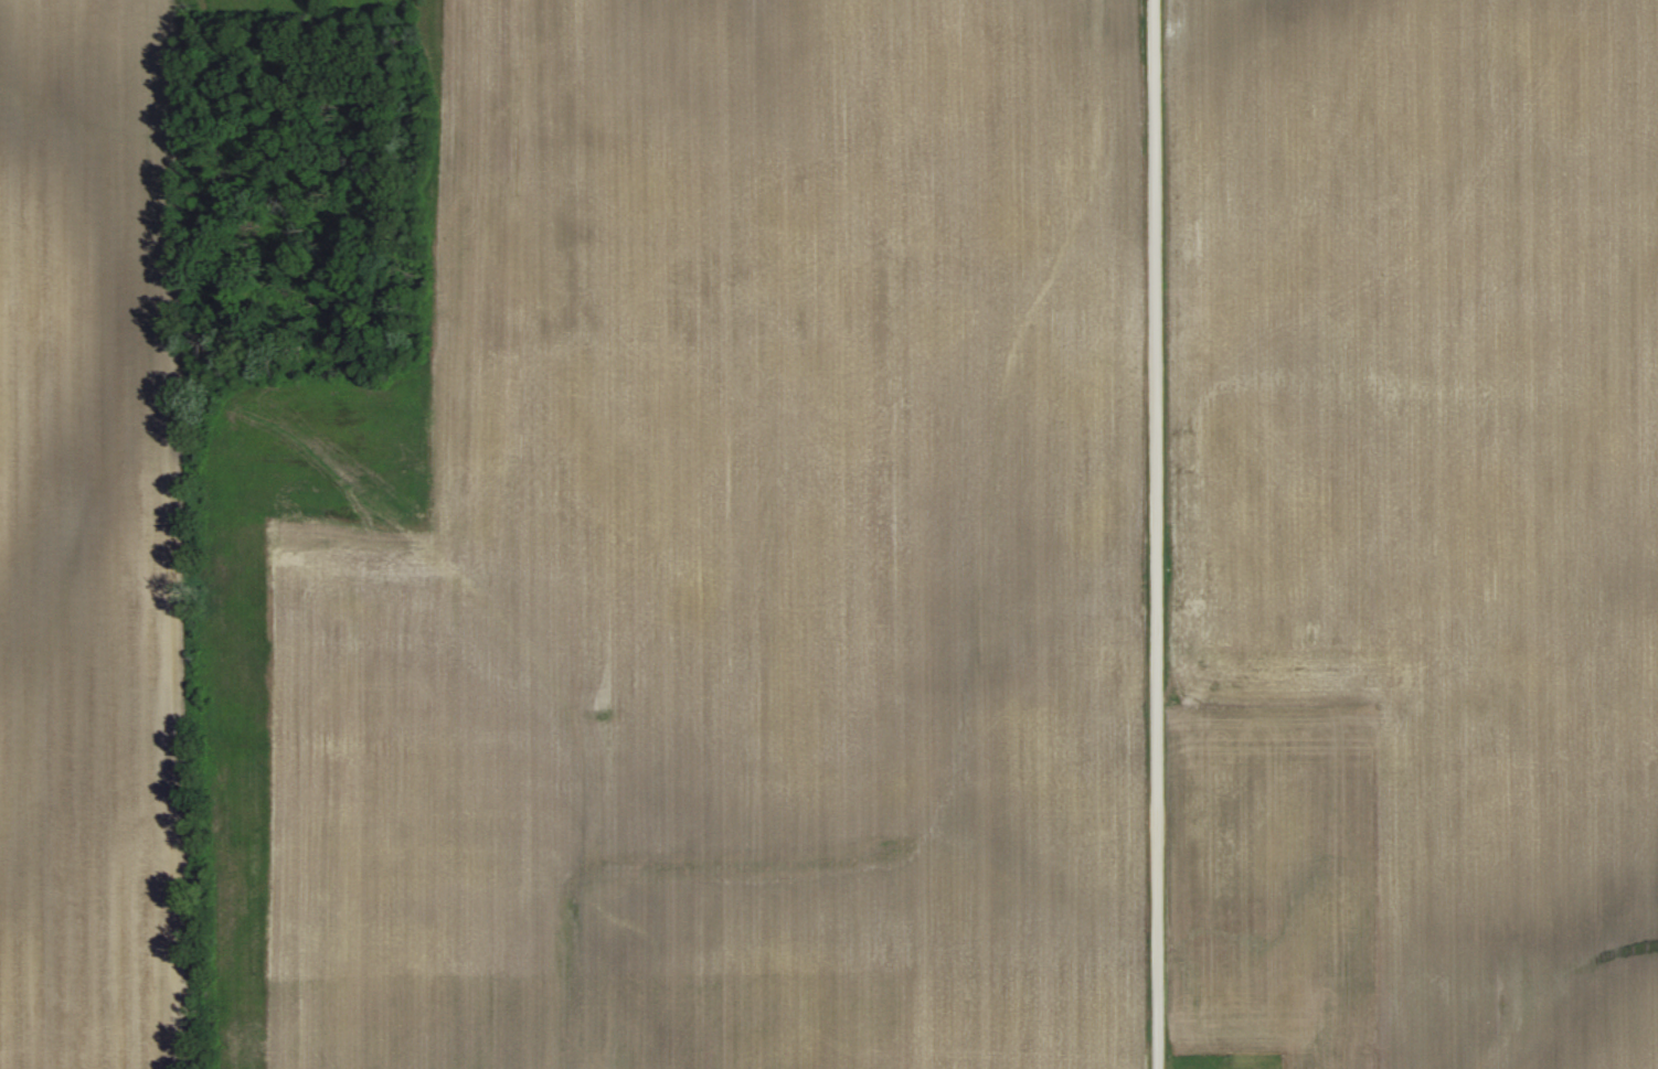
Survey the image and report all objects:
road: (1156, 534)

